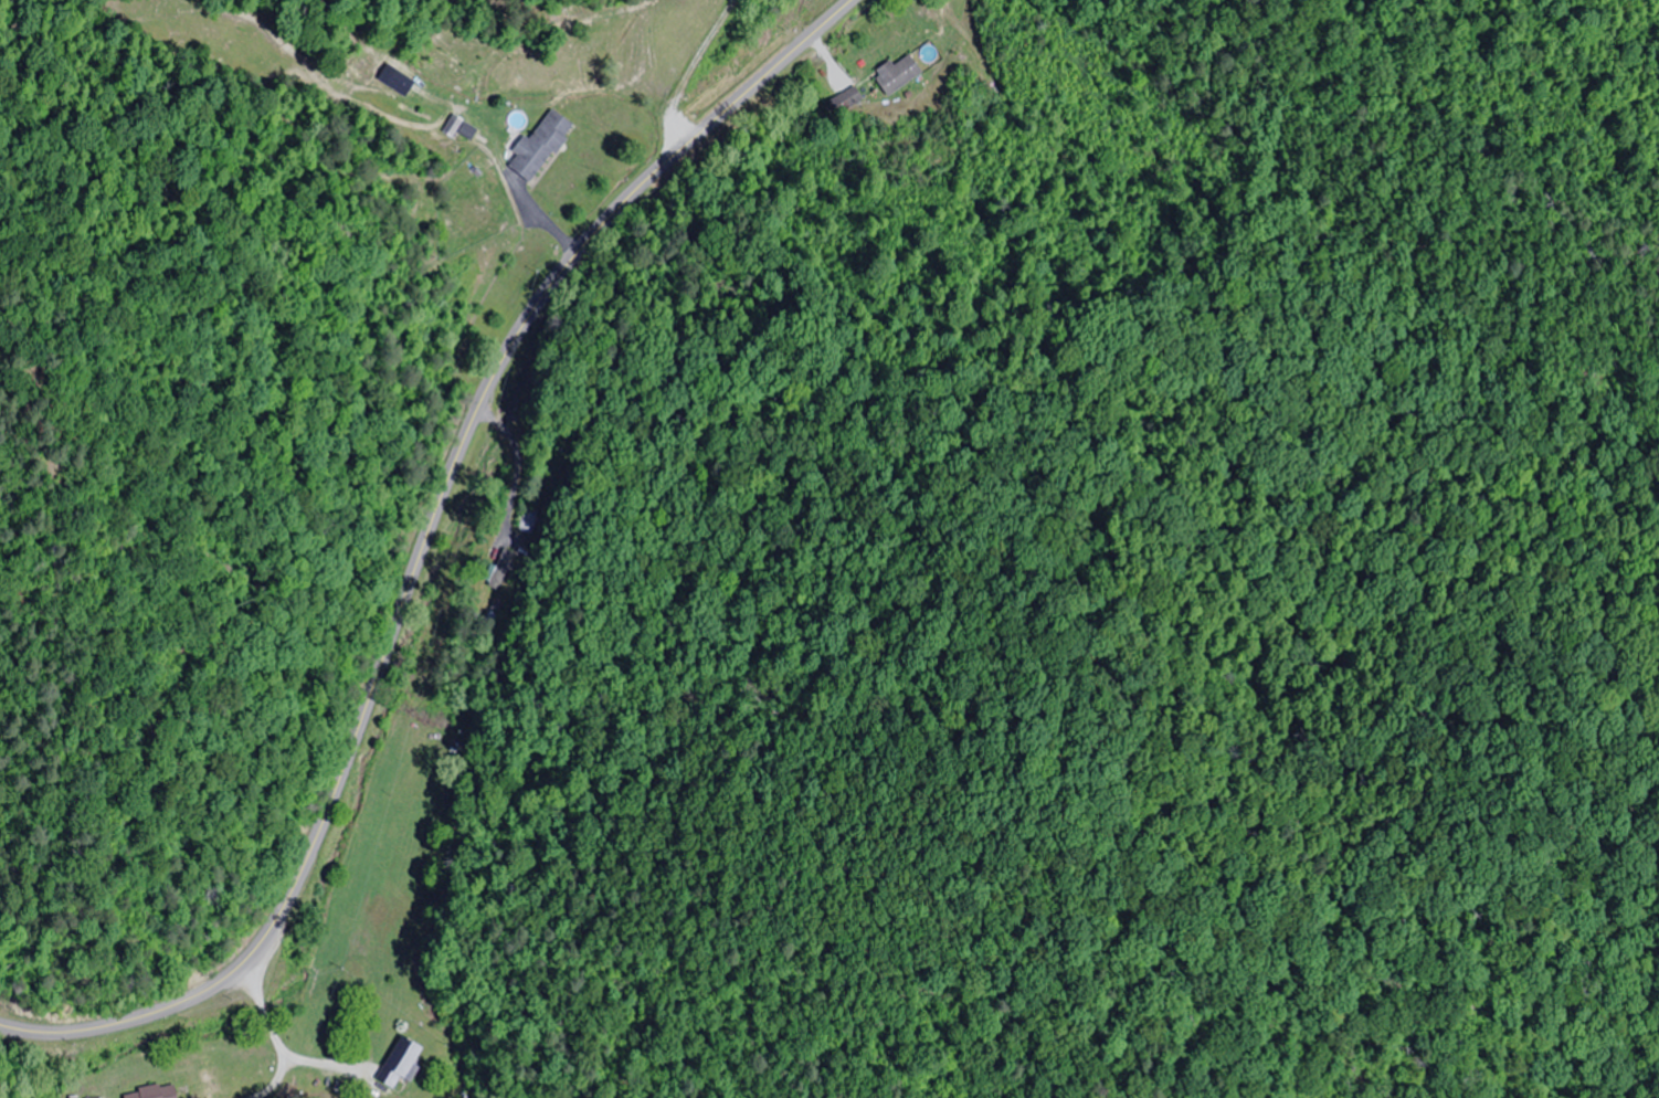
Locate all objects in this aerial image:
building: (399, 71)
building: (900, 73)
building: (849, 98)
building: (543, 145)
building: (526, 522)
road: (422, 550)
building: (498, 570)
building: (403, 1062)
building: (315, 1083)
building: (155, 1092)

